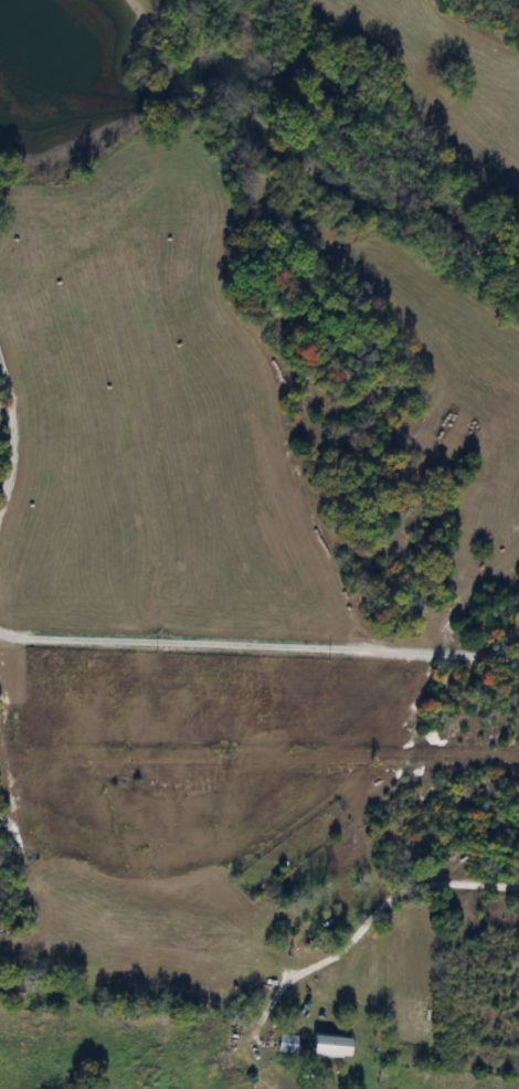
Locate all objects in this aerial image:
road: (258, 642)
road: (367, 927)
building: (285, 1045)
building: (328, 1046)

